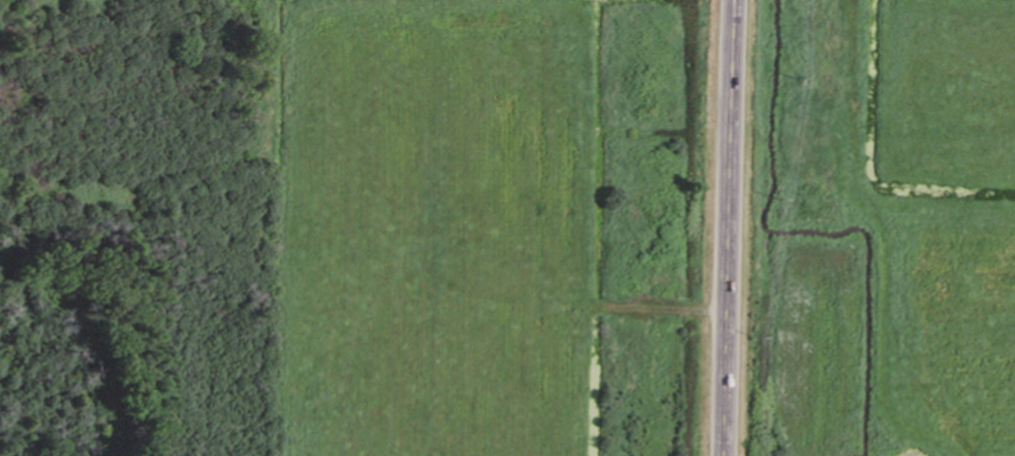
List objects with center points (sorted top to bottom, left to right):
road: (725, 227)

